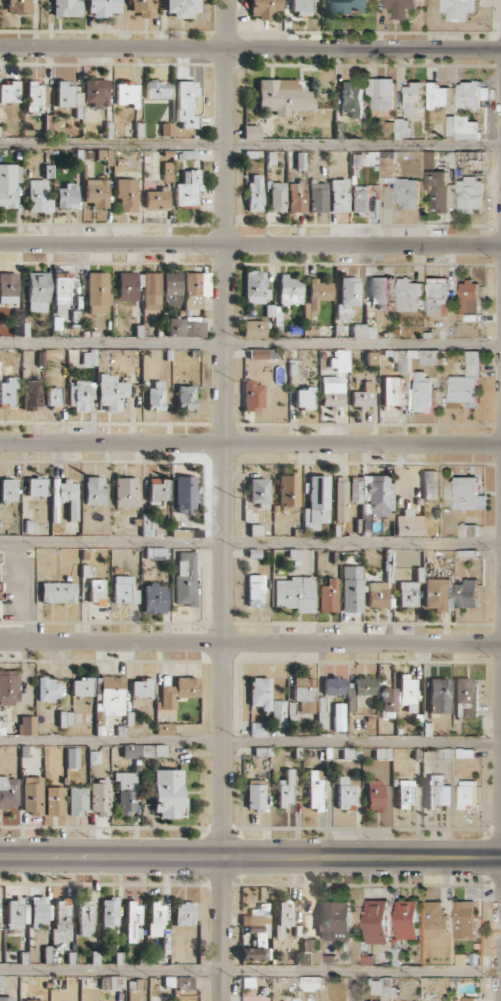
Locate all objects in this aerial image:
building: (18, 6)
building: (348, 6)
building: (102, 7)
building: (300, 7)
building: (400, 7)
building: (67, 8)
building: (143, 8)
building: (182, 8)
building: (265, 8)
building: (458, 9)
road: (250, 48)
building: (157, 90)
building: (9, 92)
building: (96, 93)
building: (126, 93)
building: (381, 93)
building: (64, 94)
building: (468, 94)
building: (33, 96)
building: (438, 96)
building: (352, 98)
building: (412, 100)
building: (185, 104)
building: (402, 127)
building: (462, 127)
building: (167, 129)
building: (251, 132)
road: (250, 145)
building: (357, 160)
building: (167, 175)
building: (9, 184)
building: (187, 188)
building: (437, 190)
building: (96, 192)
building: (126, 194)
building: (254, 194)
building: (469, 194)
building: (339, 195)
building: (39, 196)
building: (66, 196)
building: (277, 196)
building: (297, 196)
building: (318, 196)
building: (156, 199)
building: (360, 199)
road: (250, 244)
building: (37, 286)
building: (127, 286)
building: (256, 287)
building: (8, 288)
building: (172, 288)
building: (195, 289)
building: (151, 290)
building: (290, 290)
building: (380, 292)
building: (97, 293)
building: (318, 293)
building: (61, 294)
building: (408, 295)
building: (438, 296)
building: (348, 297)
building: (469, 297)
building: (19, 323)
building: (185, 328)
building: (254, 329)
building: (363, 331)
road: (250, 344)
building: (263, 353)
building: (429, 356)
building: (89, 358)
building: (371, 358)
building: (401, 359)
building: (340, 360)
building: (466, 382)
building: (391, 390)
building: (332, 391)
building: (8, 392)
building: (110, 392)
building: (421, 393)
building: (31, 394)
building: (79, 395)
building: (253, 395)
building: (155, 396)
building: (362, 396)
building: (53, 397)
building: (186, 397)
building: (304, 398)
road: (250, 443)
building: (430, 484)
building: (36, 487)
building: (355, 489)
building: (8, 490)
building: (94, 490)
building: (158, 490)
building: (125, 492)
building: (259, 492)
building: (288, 493)
building: (185, 494)
building: (468, 494)
building: (65, 496)
building: (376, 496)
building: (341, 499)
road: (225, 500)
building: (316, 503)
building: (408, 524)
building: (467, 530)
road: (250, 544)
building: (155, 553)
building: (185, 578)
building: (352, 588)
building: (124, 590)
building: (97, 591)
building: (255, 591)
building: (58, 592)
building: (294, 593)
building: (435, 593)
building: (467, 593)
building: (377, 594)
building: (408, 594)
building: (328, 596)
building: (154, 598)
road: (250, 642)
building: (334, 685)
building: (8, 686)
building: (363, 686)
building: (81, 687)
building: (141, 688)
building: (48, 689)
building: (260, 692)
building: (407, 693)
building: (304, 694)
building: (439, 695)
building: (466, 698)
building: (321, 712)
building: (278, 713)
building: (338, 716)
building: (65, 718)
building: (27, 725)
building: (164, 728)
road: (250, 742)
building: (144, 750)
building: (72, 757)
building: (93, 757)
building: (314, 789)
building: (285, 790)
building: (438, 791)
building: (8, 792)
building: (125, 792)
building: (168, 793)
building: (405, 794)
building: (467, 794)
building: (32, 795)
building: (255, 796)
building: (345, 796)
building: (375, 796)
building: (99, 797)
building: (77, 800)
building: (54, 801)
road: (250, 856)
building: (38, 911)
building: (109, 913)
building: (184, 913)
building: (62, 914)
building: (16, 915)
building: (85, 917)
building: (436, 917)
building: (282, 918)
building: (155, 919)
building: (407, 919)
building: (464, 919)
building: (335, 920)
building: (133, 921)
building: (377, 921)
building: (256, 935)
building: (307, 951)
road: (250, 971)
building: (0, 982)
building: (116, 982)
building: (178, 982)
building: (311, 983)
building: (132, 996)
building: (6, 998)
building: (469, 999)
building: (33, 1000)

